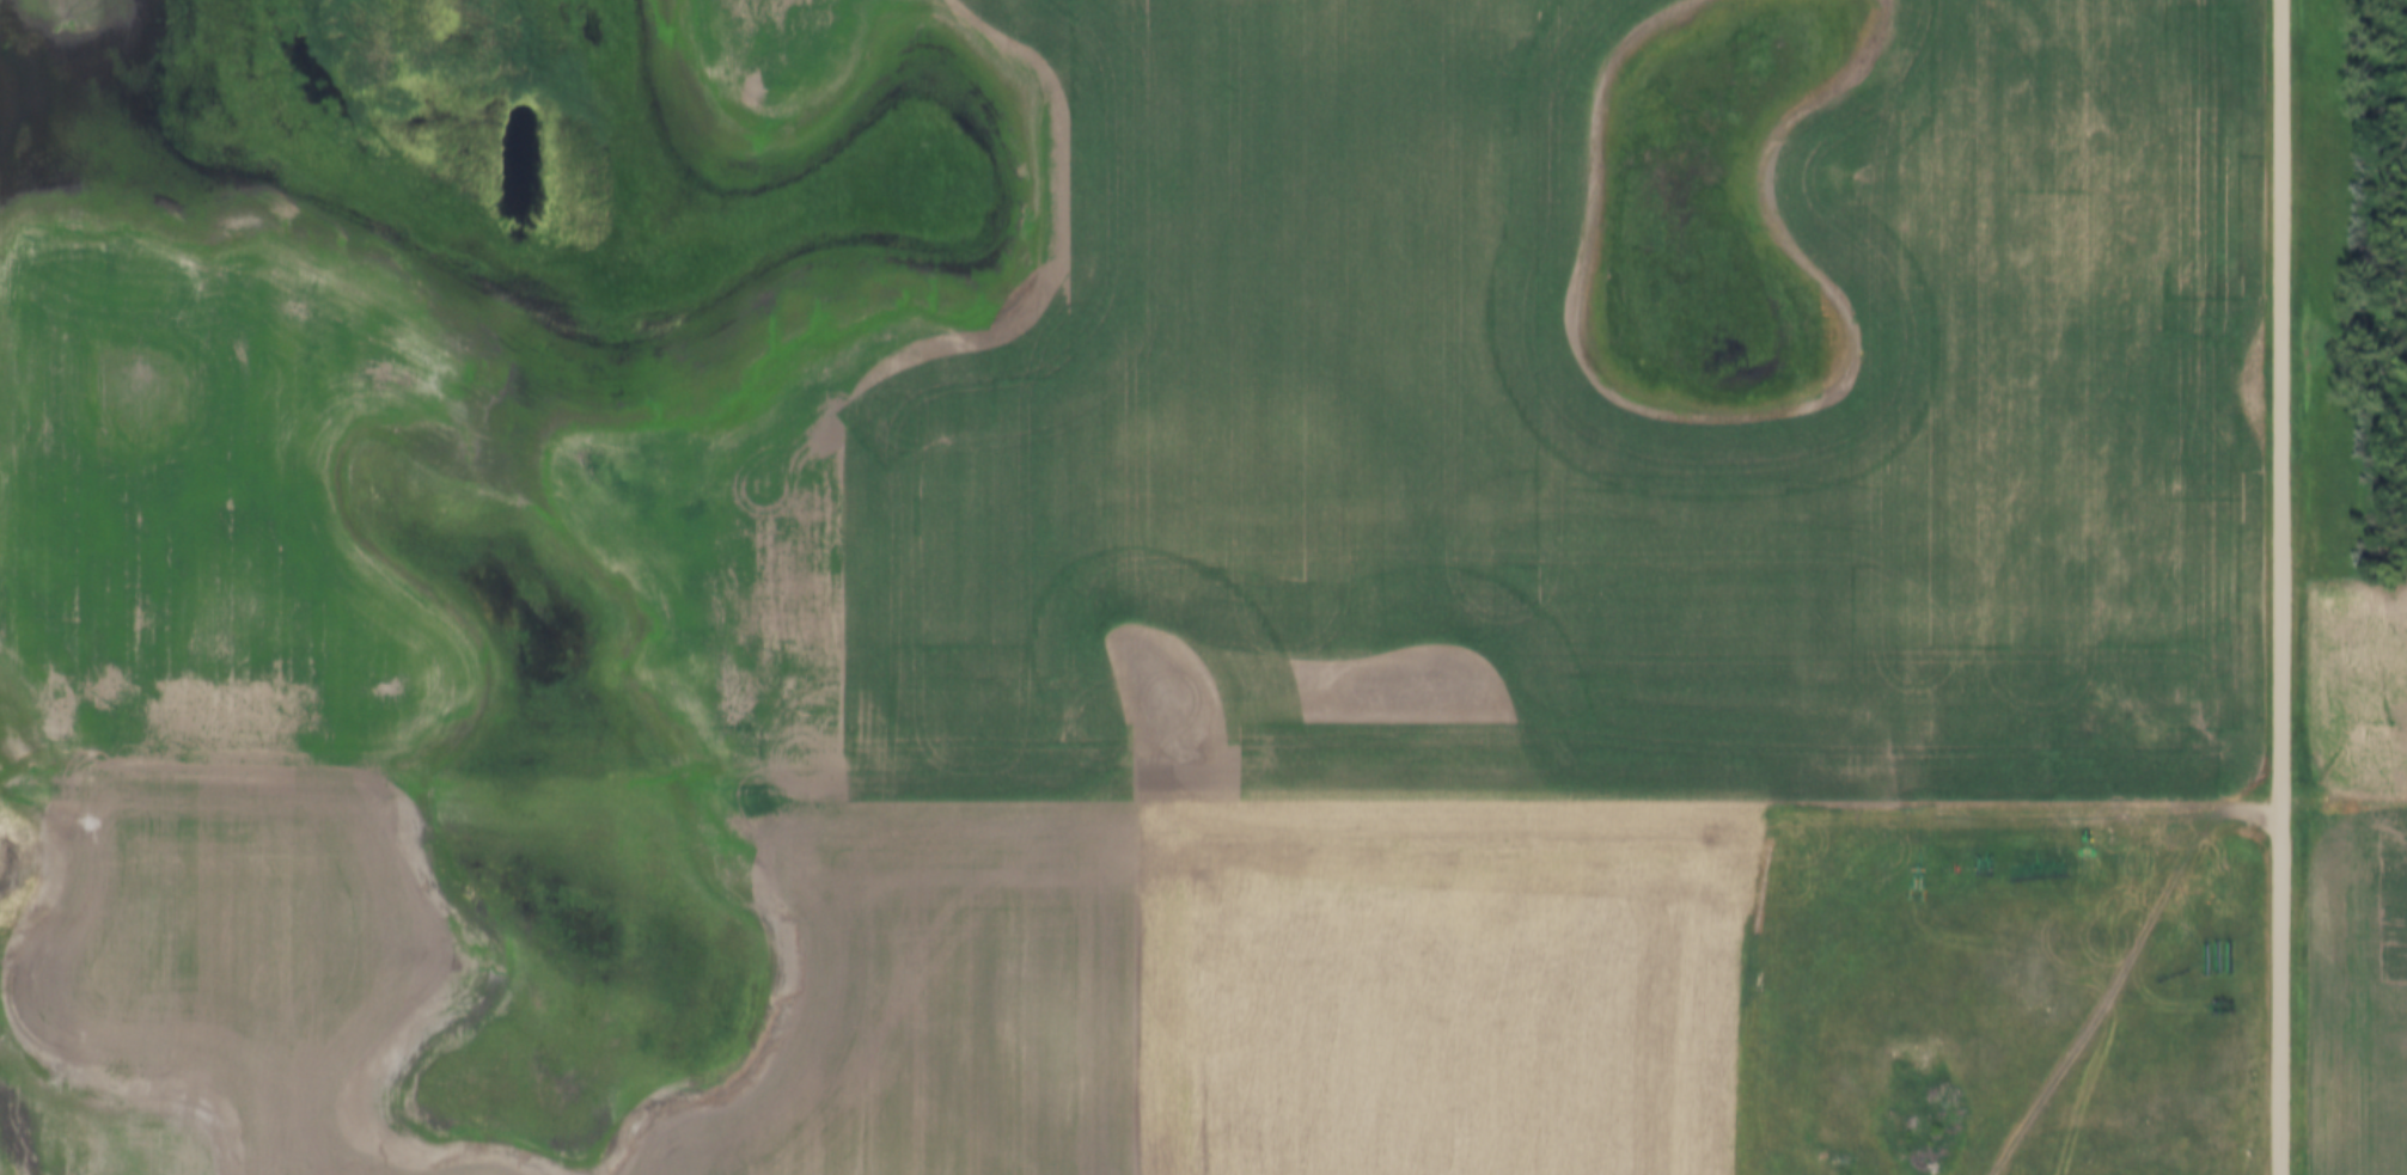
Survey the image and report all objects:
road: (2286, 587)

